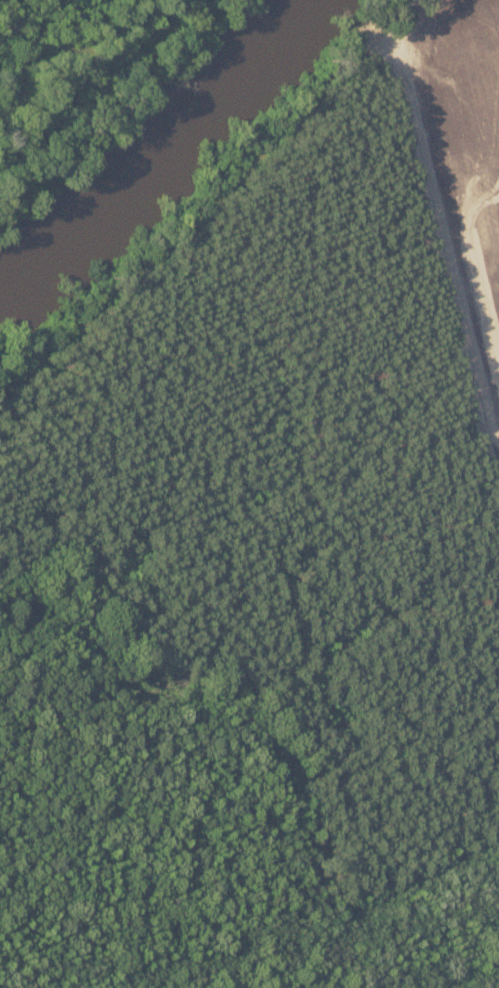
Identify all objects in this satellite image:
river: (162, 150)
road: (198, 216)
road: (442, 274)

